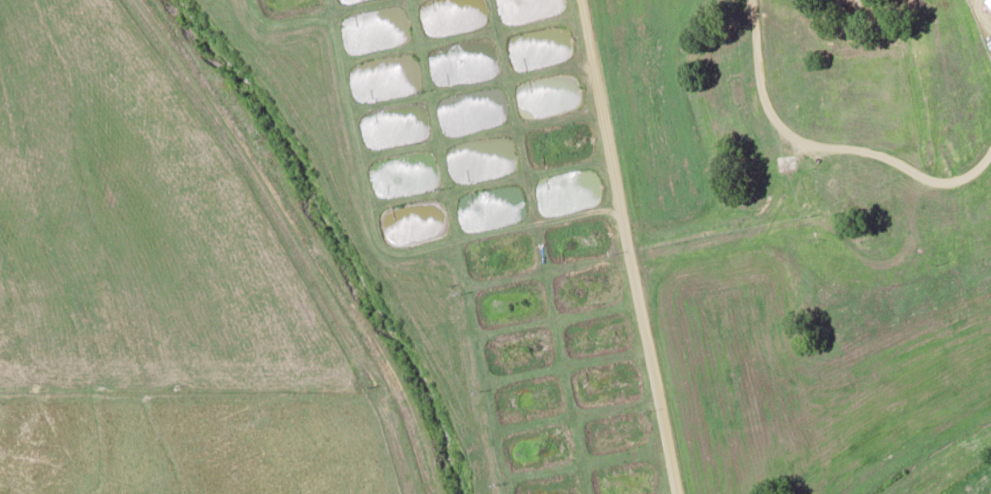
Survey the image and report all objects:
building: (988, 2)
road: (829, 145)
road: (305, 238)
road: (625, 246)

